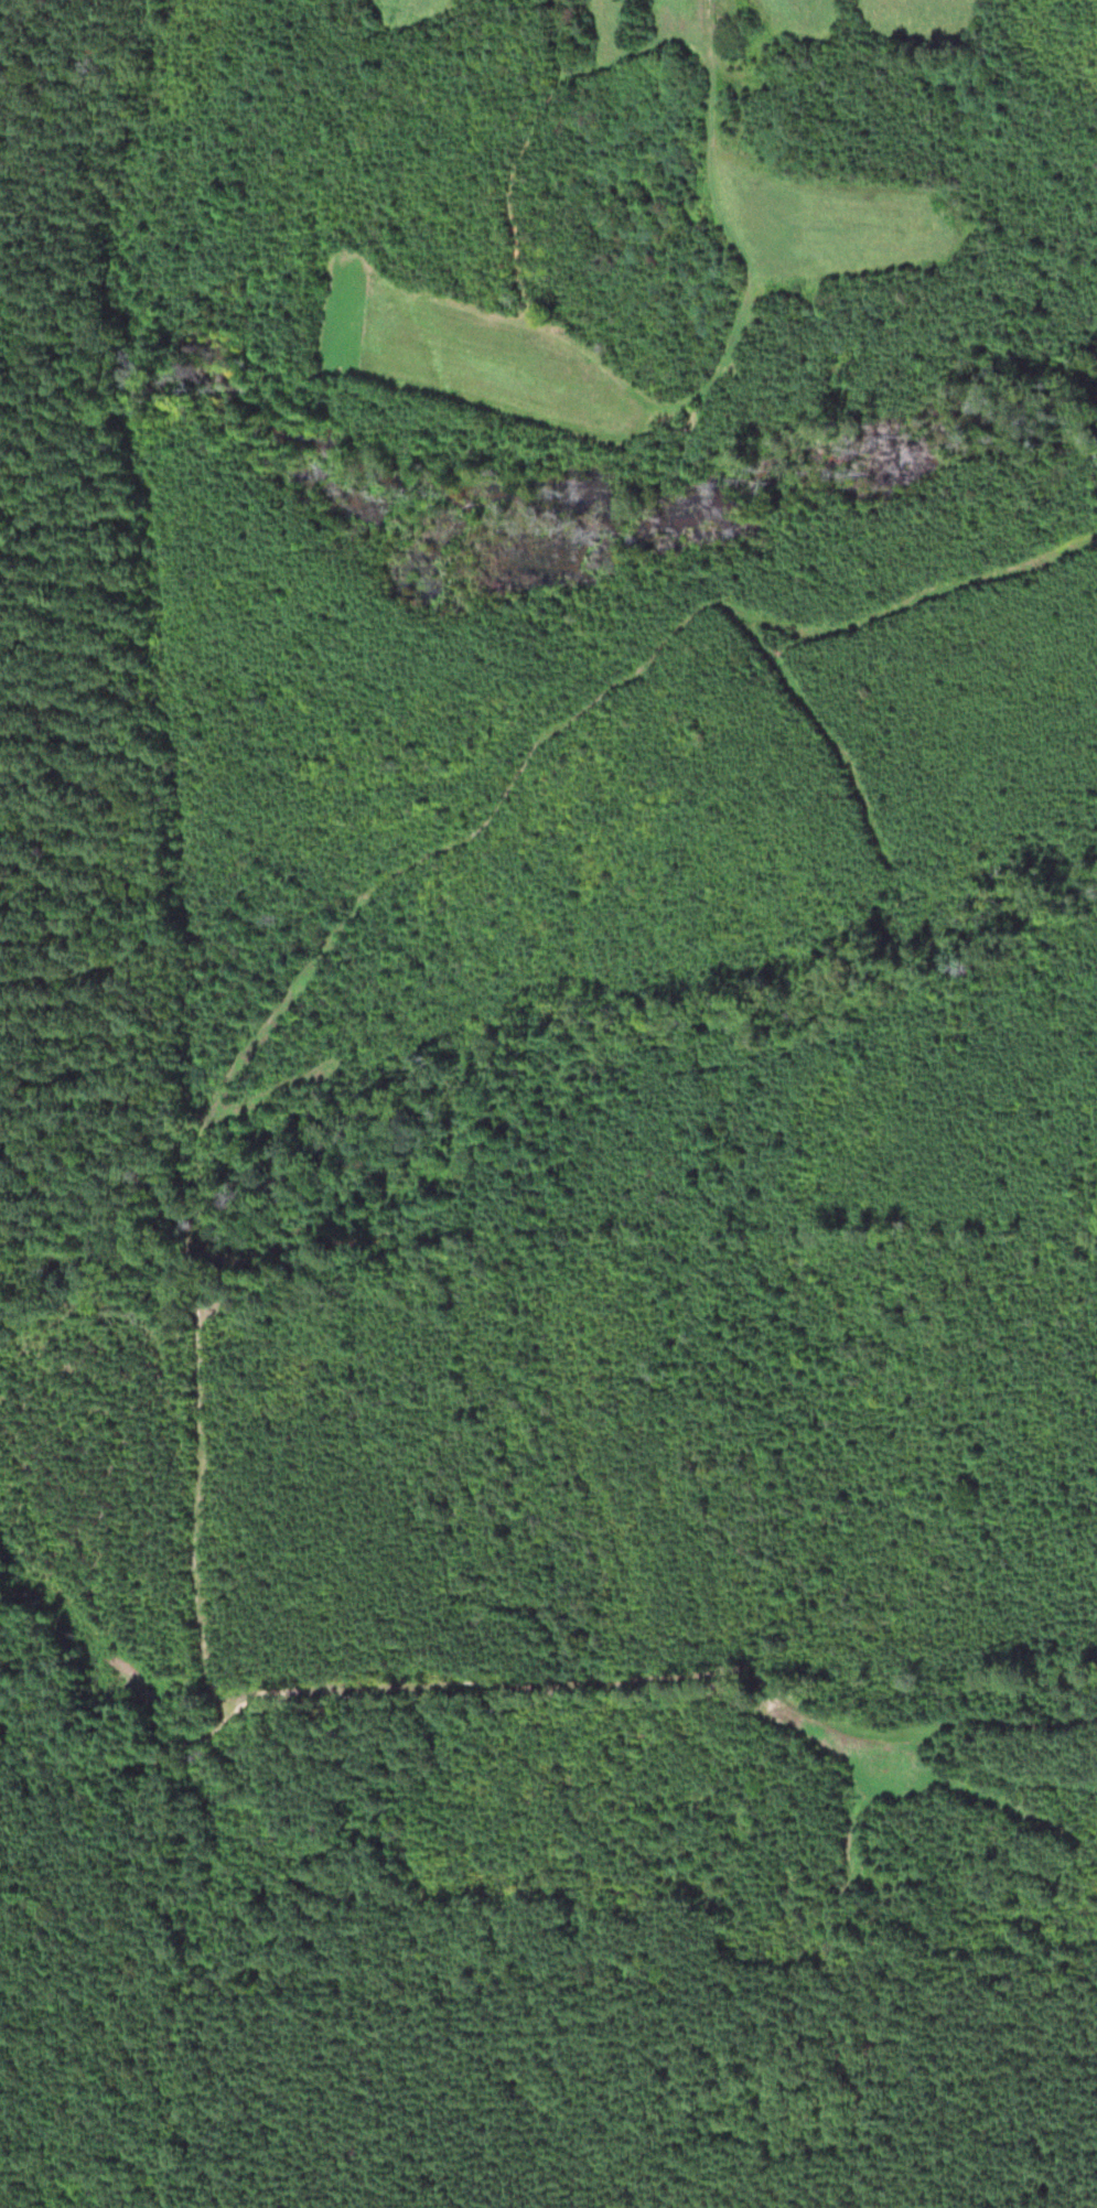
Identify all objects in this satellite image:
road: (706, 29)

